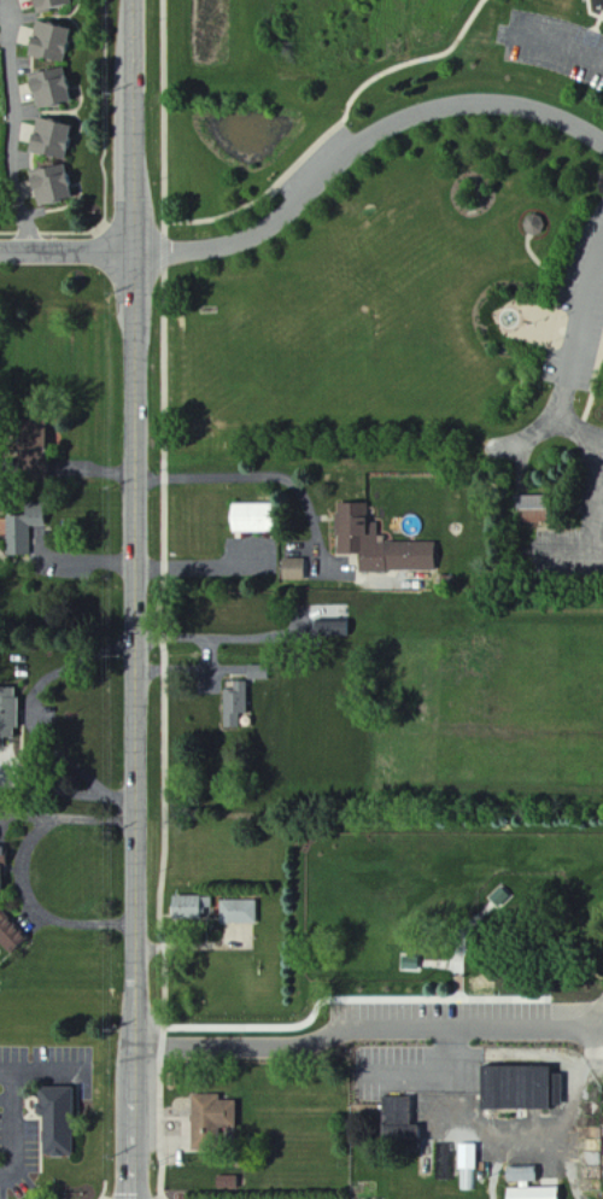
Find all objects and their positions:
building: (47, 4)
road: (408, 30)
building: (47, 42)
road: (560, 42)
building: (47, 89)
road: (14, 127)
road: (357, 136)
building: (47, 140)
building: (46, 186)
park: (400, 239)
road: (66, 253)
road: (574, 353)
building: (29, 454)
road: (257, 474)
building: (529, 508)
building: (248, 517)
building: (24, 527)
road: (135, 537)
building: (379, 544)
building: (293, 569)
road: (163, 598)
building: (330, 628)
building: (258, 672)
building: (234, 704)
road: (34, 712)
building: (7, 714)
building: (4, 854)
road: (18, 864)
building: (0, 879)
building: (189, 906)
building: (238, 912)
building: (7, 934)
road: (379, 1040)
building: (519, 1088)
road: (16, 1113)
building: (211, 1115)
building: (55, 1121)
building: (398, 1121)
road: (134, 1136)
building: (467, 1157)
road: (8, 1174)
building: (526, 1185)
road: (163, 1197)

